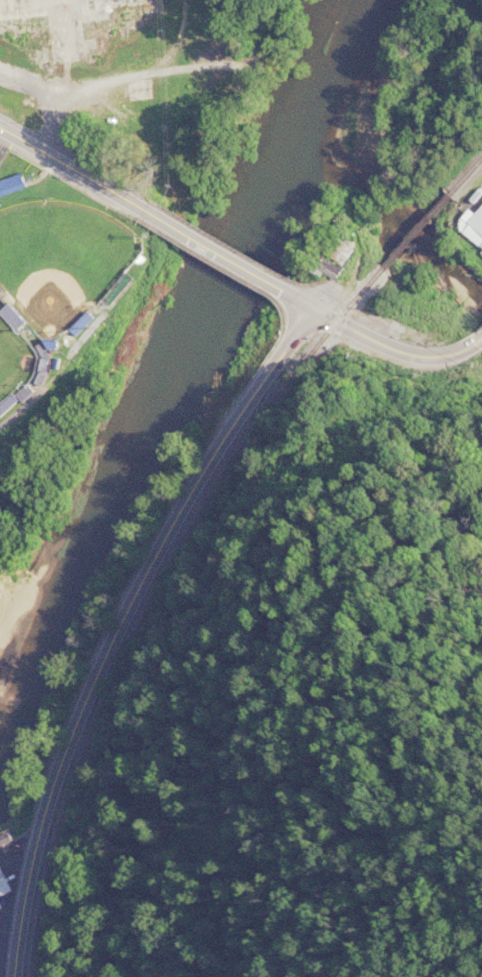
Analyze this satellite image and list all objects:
building: (73, 27)
road: (168, 49)
building: (141, 89)
road: (72, 167)
railway: (464, 175)
building: (13, 186)
building: (473, 228)
railway: (414, 230)
road: (215, 251)
park: (61, 258)
building: (333, 258)
road: (150, 267)
road: (300, 302)
park: (14, 356)
river: (174, 365)
road: (162, 543)
railway: (151, 595)
building: (4, 886)
road: (12, 918)

